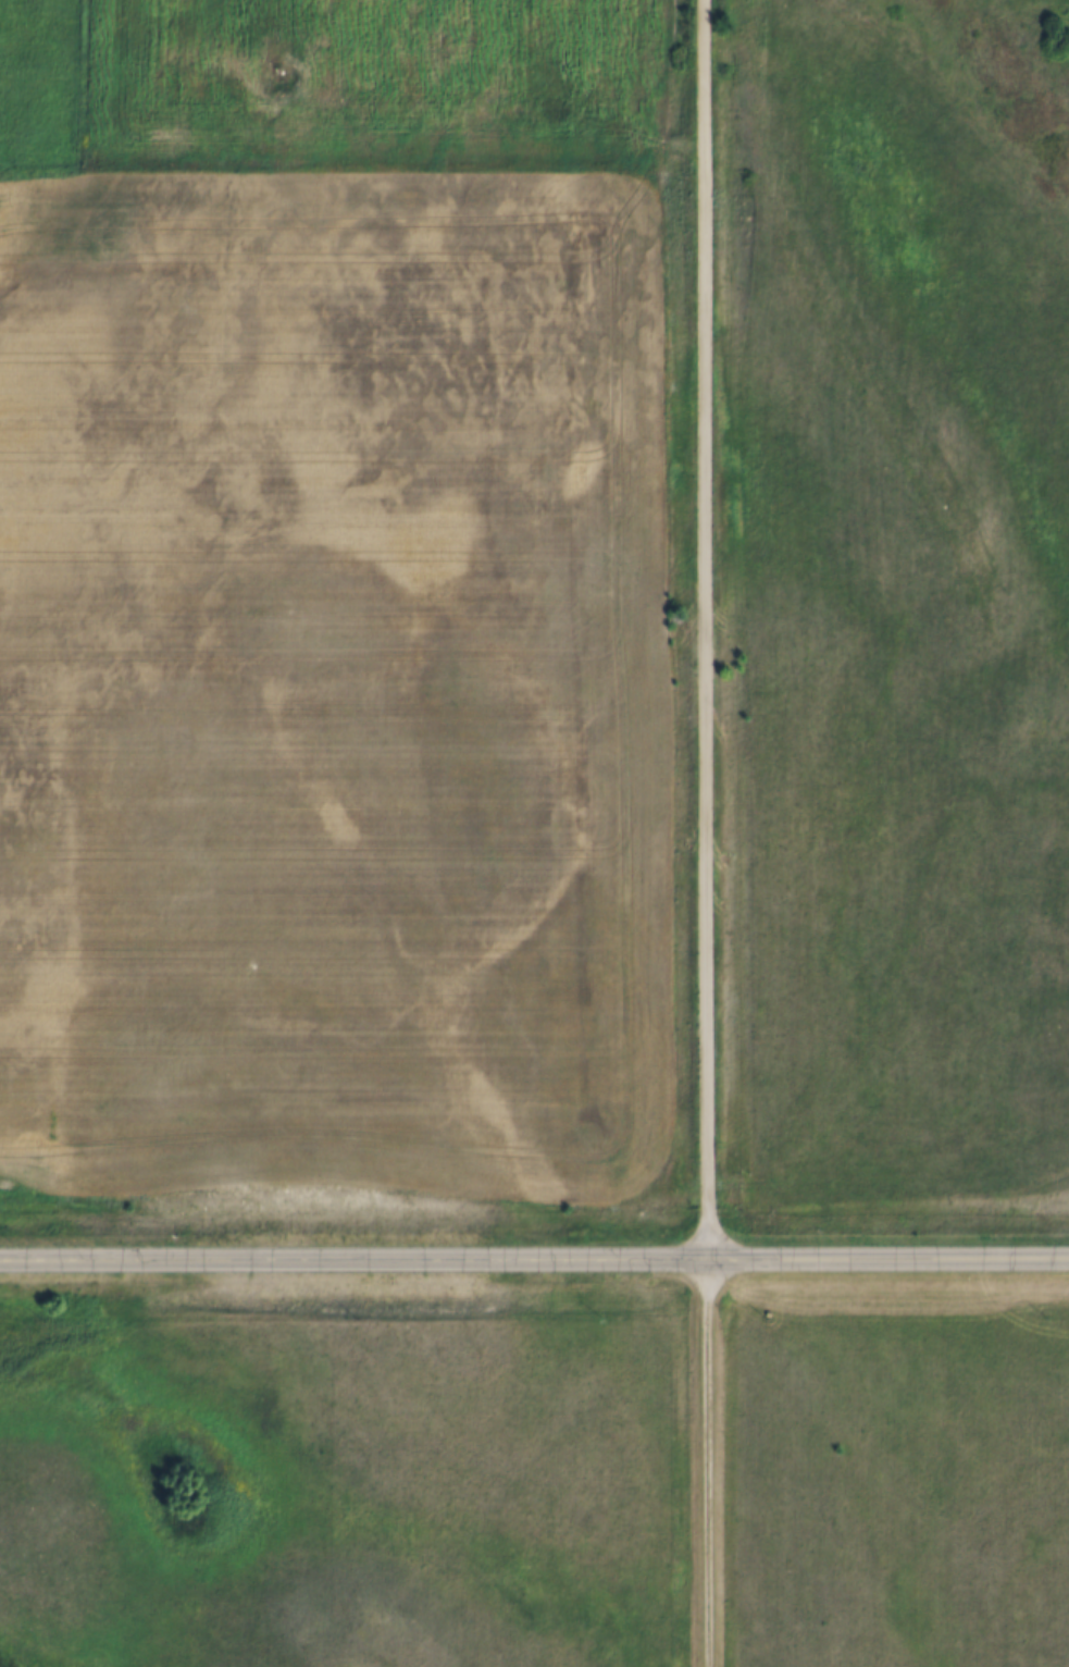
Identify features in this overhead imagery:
road: (703, 628)
road: (534, 1257)
road: (707, 1461)

